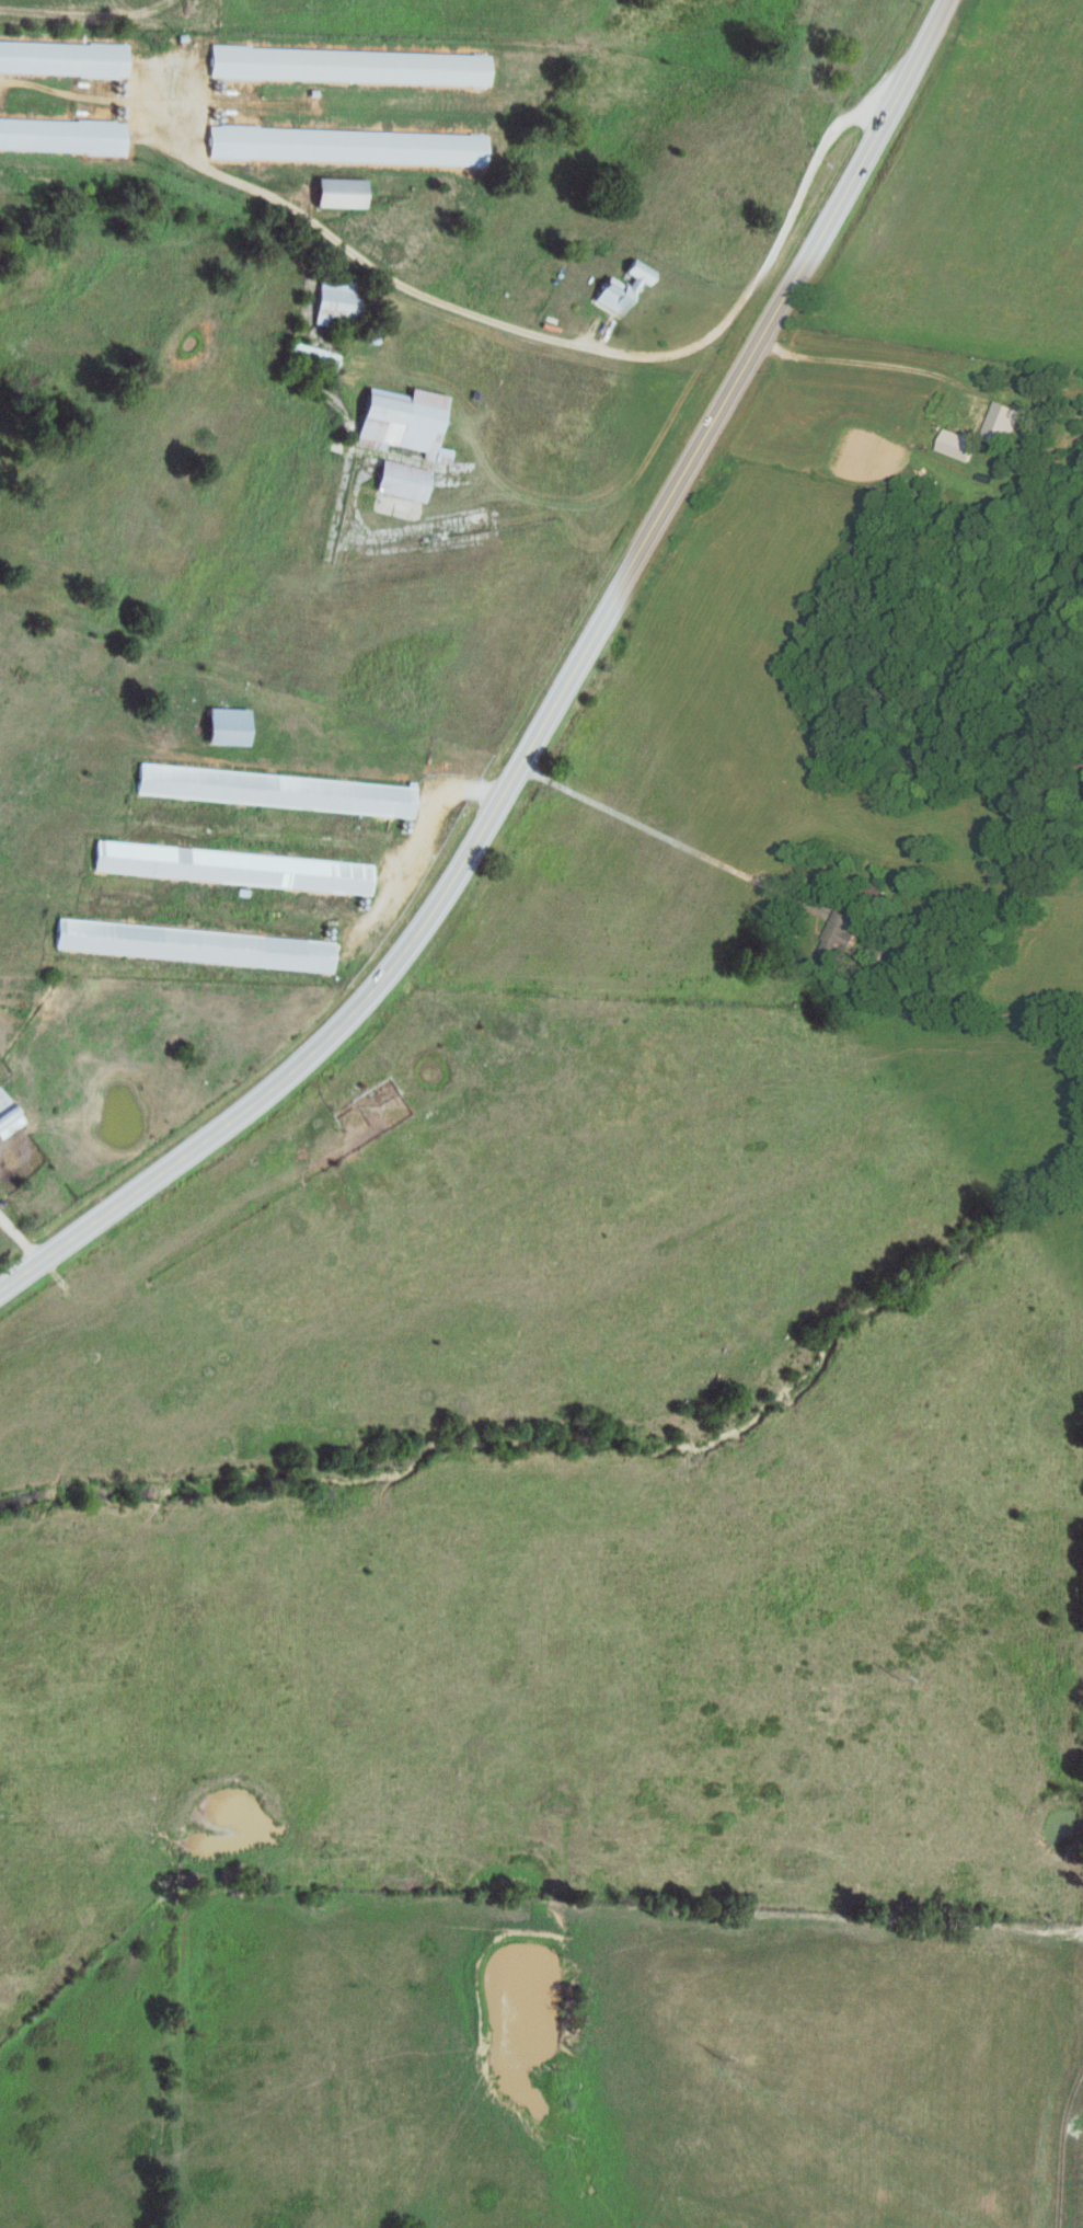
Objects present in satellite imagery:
building: (61, 56)
building: (346, 64)
building: (60, 134)
building: (344, 143)
building: (336, 191)
building: (619, 286)
building: (334, 299)
road: (530, 326)
building: (308, 354)
building: (402, 420)
building: (1003, 423)
building: (958, 444)
building: (399, 479)
road: (450, 498)
road: (594, 536)
road: (736, 576)
road: (543, 700)
building: (223, 725)
road: (729, 748)
building: (273, 789)
road: (669, 829)
road: (415, 843)
building: (230, 866)
building: (839, 934)
building: (192, 944)
road: (19, 1230)
road: (1059, 2133)

